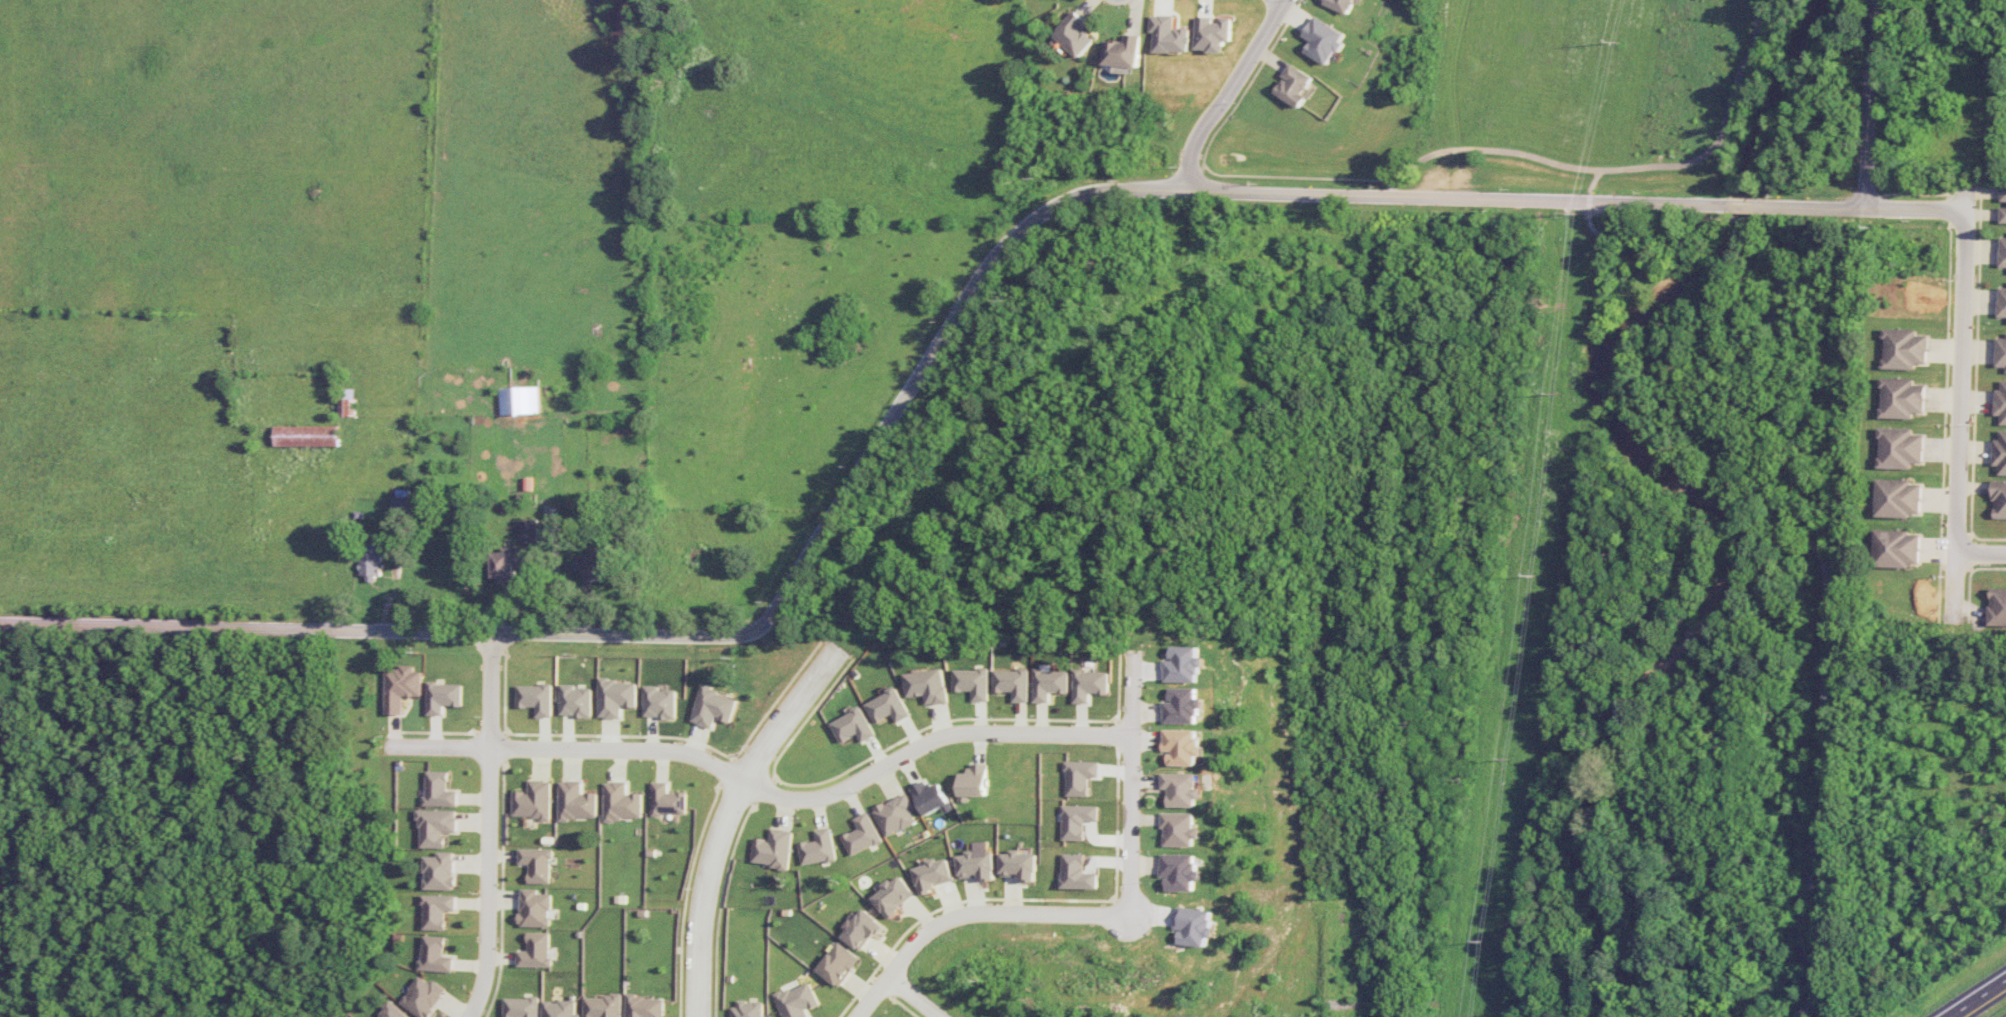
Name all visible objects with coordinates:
building: (1342, 5)
building: (1211, 33)
building: (1073, 34)
building: (1168, 35)
building: (1323, 40)
building: (1122, 53)
building: (1295, 85)
road: (1228, 90)
road: (1872, 104)
road: (1721, 131)
road: (1482, 149)
building: (2003, 193)
road: (1916, 210)
building: (2003, 215)
road: (1743, 219)
road: (1627, 239)
building: (2002, 252)
building: (2002, 301)
building: (1904, 348)
building: (2001, 352)
road: (914, 388)
building: (1902, 398)
building: (520, 400)
road: (1959, 402)
building: (2001, 403)
building: (346, 404)
building: (307, 436)
building: (1900, 448)
building: (2000, 453)
river: (1686, 479)
building: (1899, 498)
building: (1999, 499)
building: (401, 507)
building: (529, 531)
building: (1897, 548)
road: (1980, 553)
building: (372, 560)
building: (508, 564)
building: (598, 568)
road: (1825, 605)
building: (1997, 607)
building: (1181, 664)
building: (972, 682)
building: (1012, 683)
building: (1048, 684)
building: (927, 685)
building: (1088, 685)
building: (401, 687)
building: (444, 697)
building: (616, 697)
building: (537, 698)
building: (576, 701)
building: (660, 702)
building: (888, 706)
building: (1180, 706)
building: (713, 707)
building: (853, 726)
building: (1180, 746)
building: (1079, 777)
building: (973, 782)
road: (1129, 784)
road: (763, 788)
building: (439, 789)
building: (1179, 789)
building: (931, 797)
building: (534, 800)
building: (667, 800)
building: (577, 801)
building: (621, 802)
building: (896, 815)
road: (728, 820)
building: (1076, 820)
road: (489, 826)
building: (436, 827)
building: (1177, 829)
building: (862, 835)
building: (819, 848)
building: (773, 849)
building: (537, 864)
building: (975, 865)
building: (1017, 865)
building: (439, 871)
building: (1075, 872)
building: (1177, 872)
building: (933, 874)
building: (893, 895)
building: (534, 908)
building: (437, 910)
road: (970, 912)
building: (1193, 926)
building: (861, 929)
power tower: (1483, 937)
building: (536, 950)
building: (435, 954)
building: (838, 964)
building: (423, 996)
road: (914, 997)
road: (1975, 997)
building: (797, 1000)
building: (602, 1006)
building: (644, 1006)
building: (521, 1007)
building: (559, 1009)
building: (748, 1009)
building: (392, 1011)

